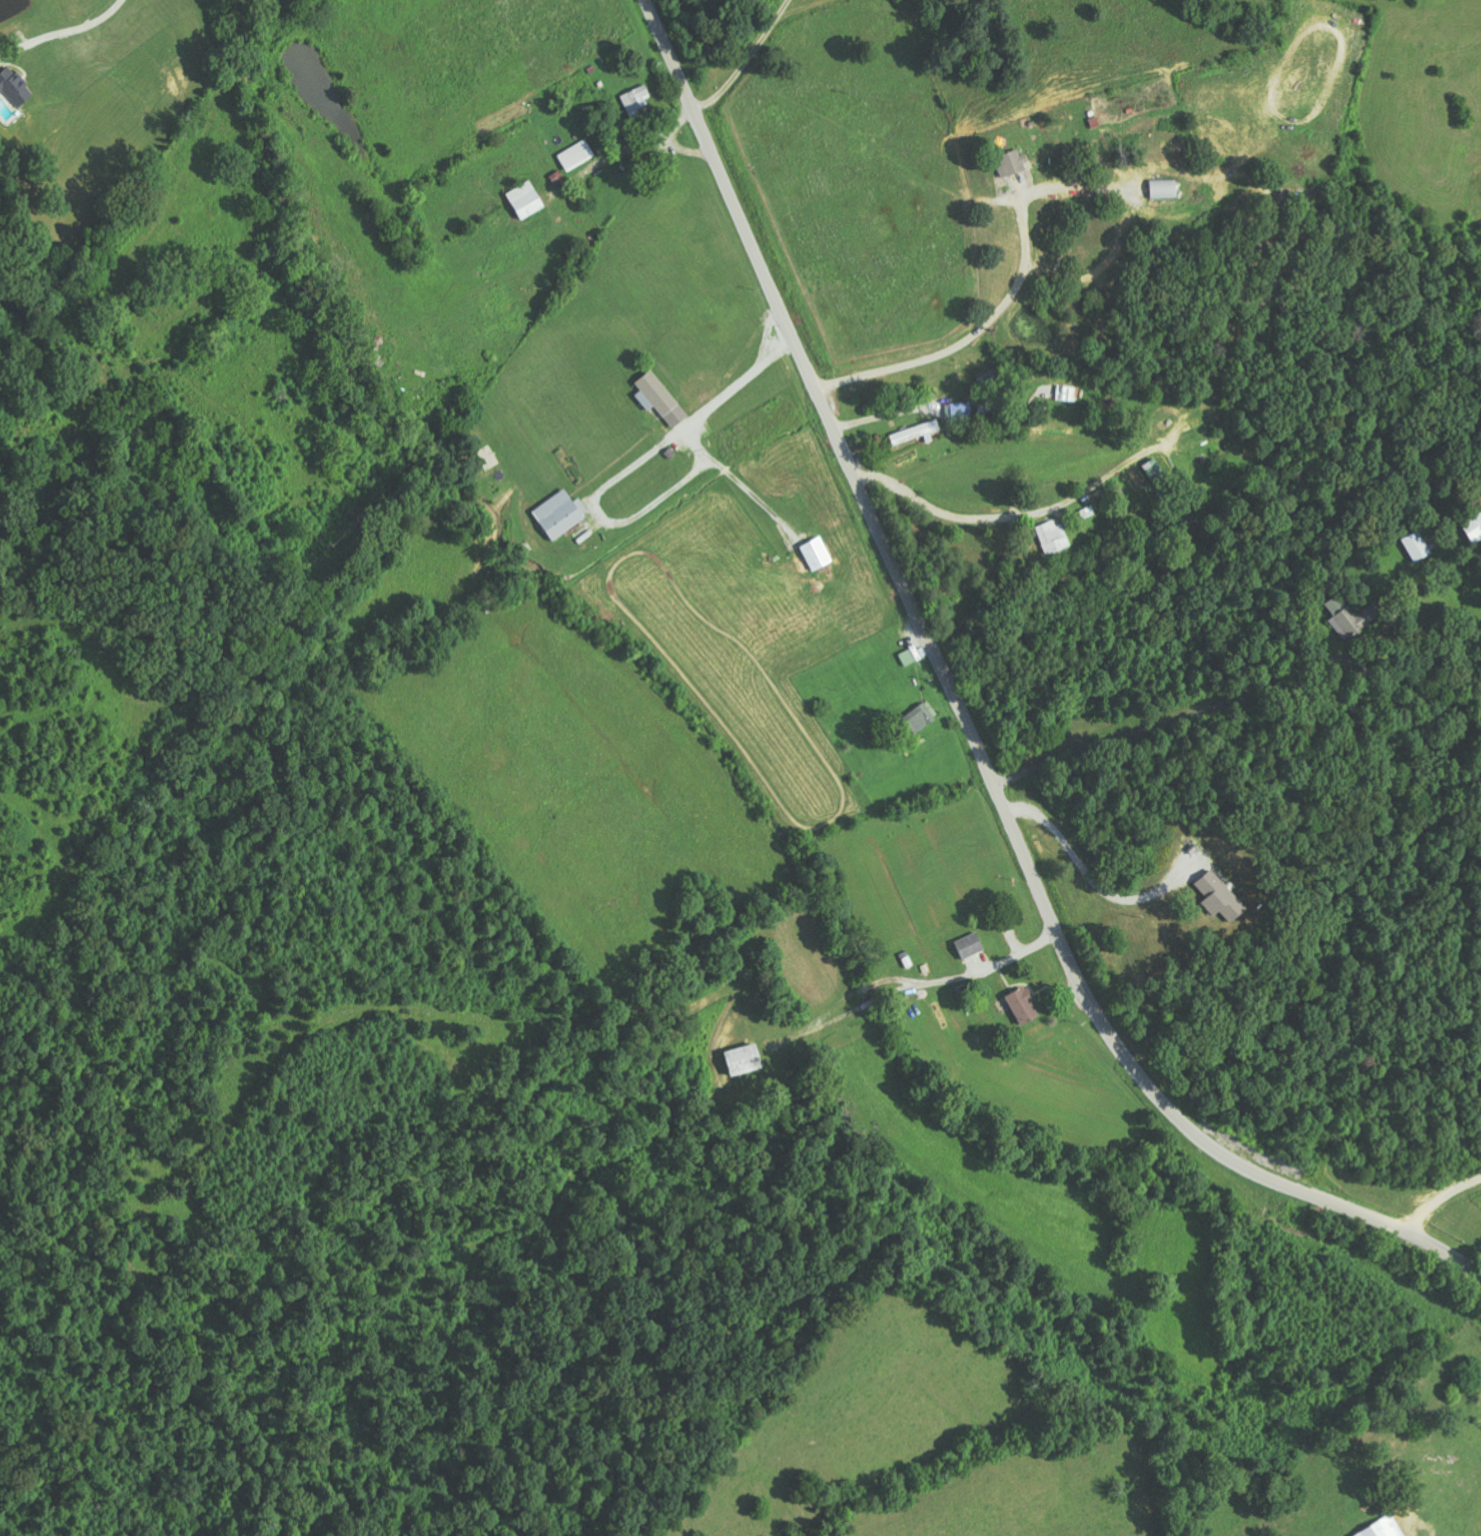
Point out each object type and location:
building: (15, 97)
building: (637, 101)
building: (578, 155)
building: (1015, 163)
building: (560, 178)
building: (1166, 188)
building: (529, 199)
road: (926, 305)
building: (662, 399)
building: (963, 411)
building: (918, 433)
building: (563, 514)
building: (1053, 536)
building: (1420, 546)
building: (819, 554)
building: (1352, 616)
building: (909, 658)
building: (923, 716)
road: (970, 723)
building: (1221, 896)
building: (972, 946)
building: (1026, 1005)
building: (747, 1060)
road: (1464, 1233)
building: (1384, 1528)

